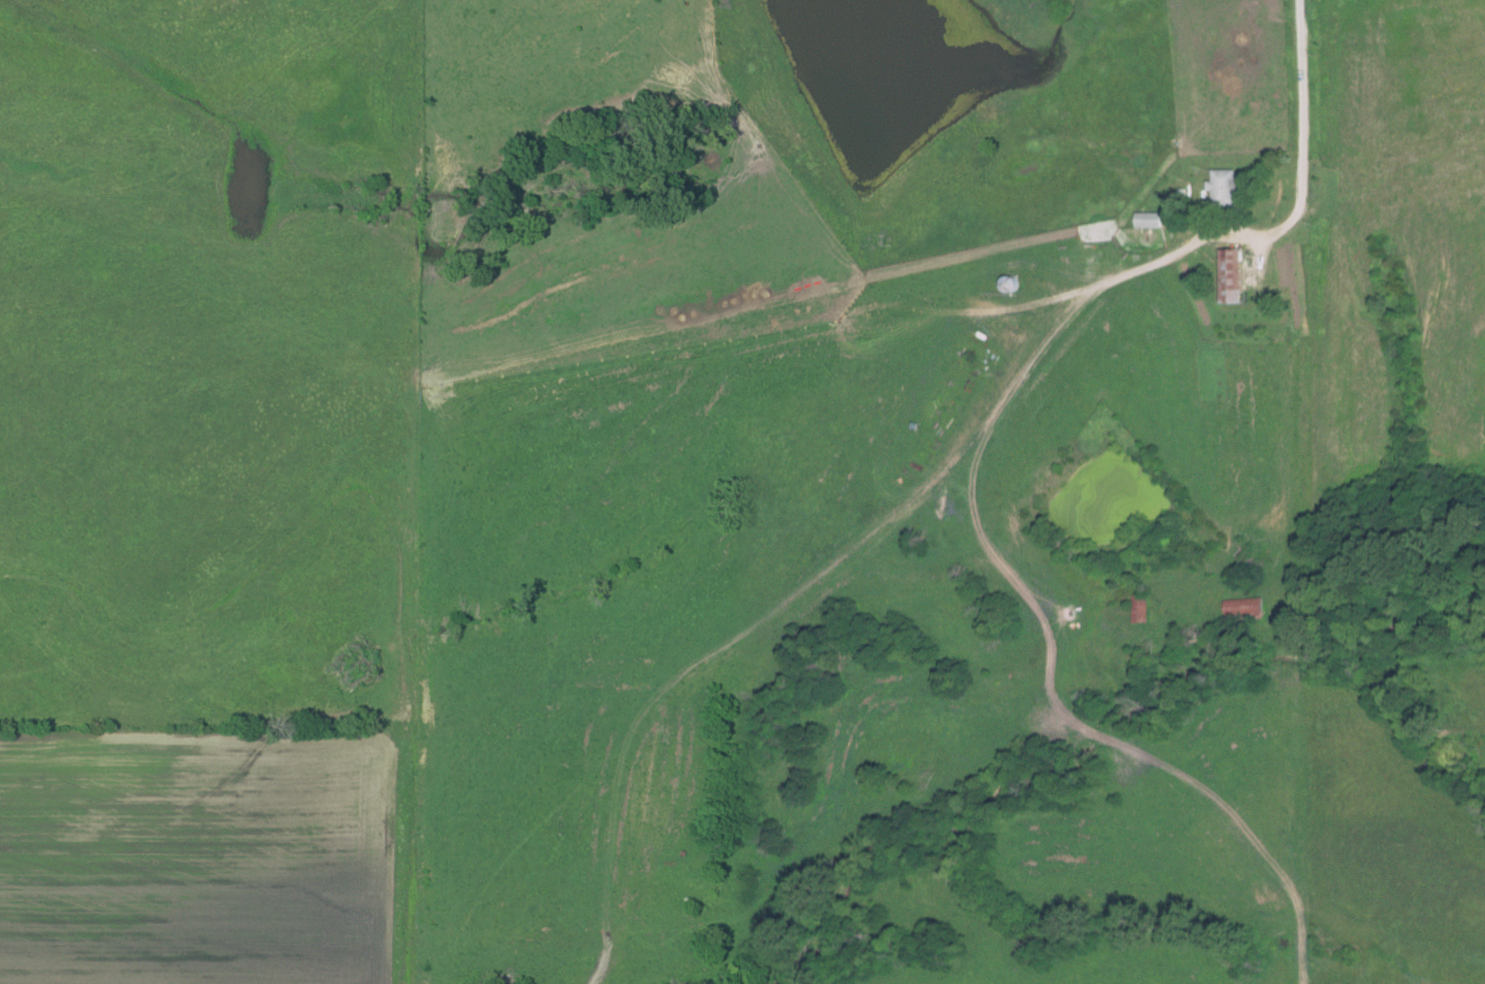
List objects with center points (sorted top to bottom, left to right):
road: (1302, 105)
building: (1224, 189)
building: (1147, 220)
building: (1231, 277)
building: (1010, 286)
building: (1138, 608)
building: (1243, 610)

